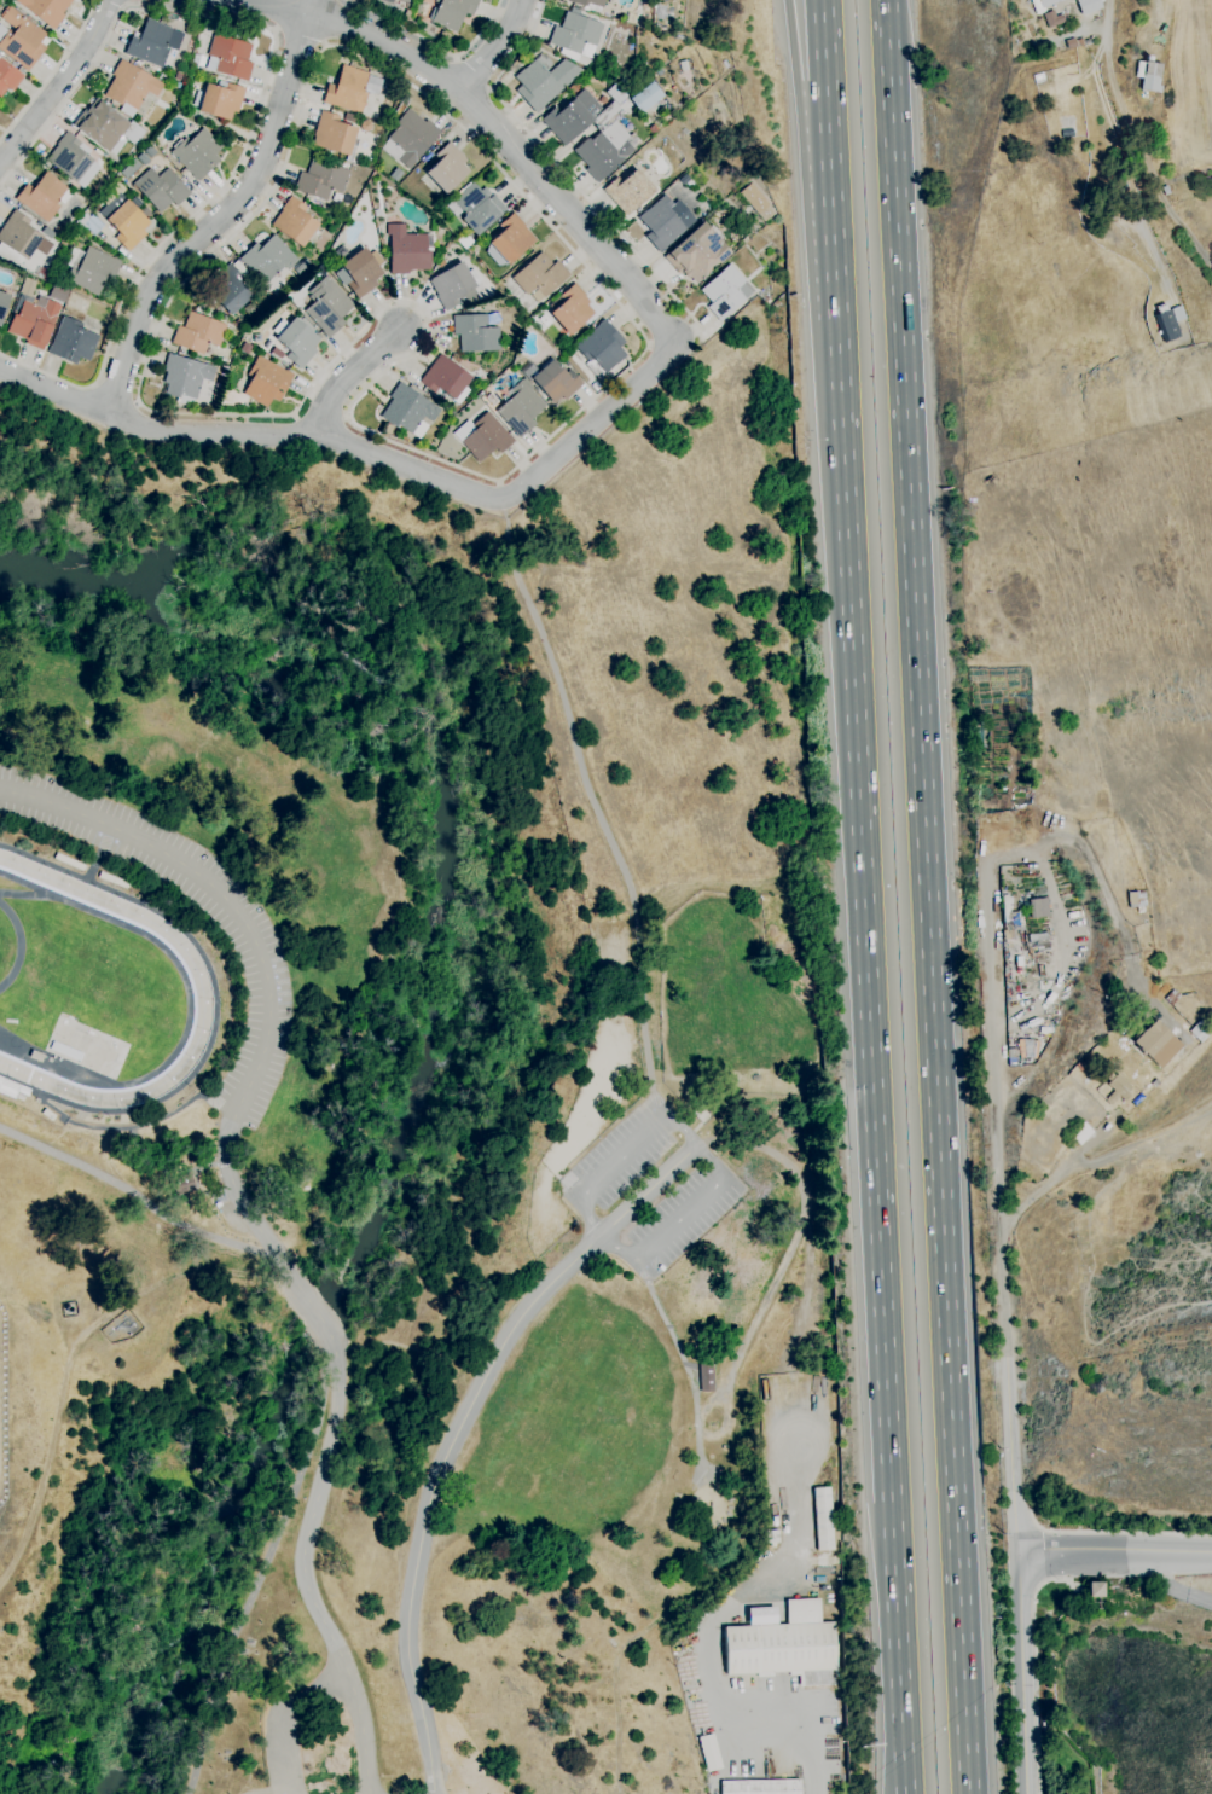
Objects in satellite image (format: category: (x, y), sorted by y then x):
building: (650, 0)
building: (388, 1)
building: (588, 2)
building: (1042, 5)
building: (1089, 8)
building: (46, 10)
building: (452, 12)
road: (279, 16)
building: (407, 16)
building: (631, 19)
building: (1052, 19)
road: (331, 22)
road: (1107, 23)
building: (238, 29)
building: (579, 34)
road: (300, 36)
building: (21, 39)
building: (1079, 42)
building: (1088, 42)
building: (155, 43)
building: (1071, 43)
road: (434, 46)
road: (492, 46)
building: (228, 57)
road: (822, 63)
road: (793, 66)
building: (660, 71)
road: (51, 72)
road: (475, 72)
building: (178, 76)
building: (1149, 76)
building: (8, 77)
building: (162, 77)
road: (59, 81)
building: (544, 81)
building: (178, 86)
building: (131, 87)
building: (347, 89)
building: (644, 97)
road: (260, 98)
building: (219, 99)
building: (100, 124)
road: (499, 133)
building: (611, 134)
building: (334, 135)
building: (410, 139)
building: (197, 152)
building: (70, 157)
road: (283, 164)
road: (1123, 167)
building: (447, 168)
road: (566, 174)
building: (321, 179)
building: (161, 188)
building: (1165, 190)
building: (628, 191)
building: (44, 196)
building: (755, 202)
building: (476, 208)
road: (224, 216)
building: (127, 220)
building: (294, 221)
building: (665, 222)
road: (830, 225)
building: (60, 231)
building: (17, 239)
building: (509, 240)
building: (407, 251)
building: (696, 252)
building: (268, 259)
building: (301, 266)
building: (89, 268)
building: (360, 272)
building: (539, 277)
building: (453, 285)
building: (231, 290)
building: (725, 291)
building: (205, 302)
building: (2, 304)
building: (327, 306)
building: (572, 309)
building: (33, 320)
building: (1170, 320)
building: (198, 333)
building: (475, 333)
building: (257, 337)
building: (73, 341)
building: (296, 341)
building: (245, 348)
building: (602, 349)
building: (185, 376)
road: (356, 379)
building: (446, 379)
building: (552, 381)
building: (266, 382)
road: (116, 393)
building: (228, 399)
building: (521, 408)
building: (410, 411)
building: (388, 429)
building: (486, 437)
road: (366, 452)
road: (418, 452)
river: (450, 793)
road: (595, 805)
road: (222, 894)
road: (927, 896)
building: (1137, 899)
building: (1038, 907)
building: (1010, 921)
parking lot: (254, 940)
building: (1039, 941)
track: (199, 980)
building: (1170, 994)
building: (1201, 1030)
building: (1156, 1044)
building: (1022, 1051)
road: (869, 1057)
building: (1155, 1084)
building: (1117, 1087)
building: (21, 1097)
road: (996, 1104)
building: (48, 1115)
park: (423, 1121)
road: (131, 1128)
building: (1081, 1133)
road: (725, 1175)
building: (182, 1184)
parking lot: (650, 1189)
road: (239, 1198)
road: (143, 1202)
road: (313, 1301)
river: (318, 1317)
road: (688, 1366)
building: (706, 1377)
solar farm: (2, 1404)
road: (463, 1430)
road: (1011, 1455)
building: (823, 1519)
road: (1117, 1532)
building: (772, 1537)
road: (1114, 1551)
river: (216, 1563)
road: (272, 1571)
road: (305, 1571)
road: (1173, 1589)
building: (1094, 1590)
building: (785, 1647)
road: (1020, 1672)
road: (1036, 1672)
park: (1141, 1696)
road: (280, 1714)
road: (820, 1746)
building: (761, 1787)
road: (901, 1793)
road: (903, 1793)

